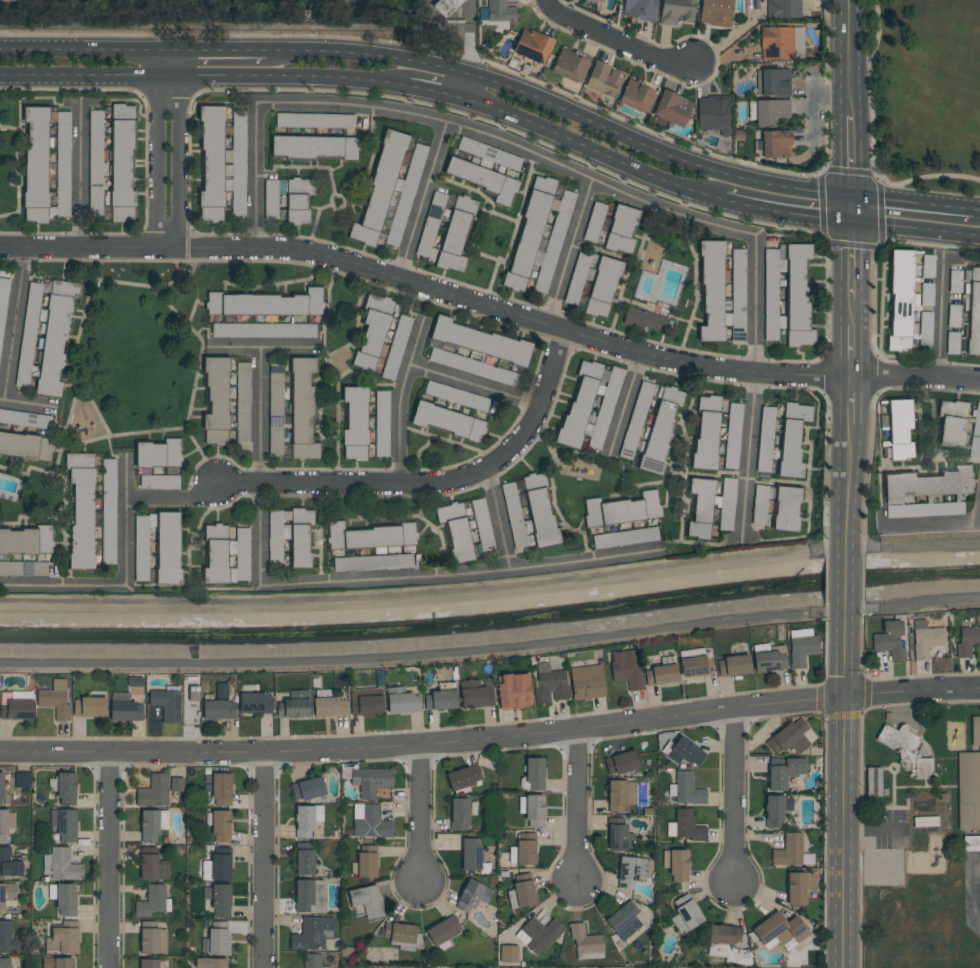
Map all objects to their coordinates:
building: (590, 1)
building: (448, 7)
building: (639, 9)
building: (783, 9)
building: (498, 11)
building: (677, 12)
building: (716, 12)
park: (260, 18)
road: (614, 39)
building: (782, 43)
building: (532, 46)
road: (83, 49)
road: (216, 50)
road: (846, 57)
building: (570, 66)
road: (204, 76)
building: (604, 79)
building: (772, 82)
road: (463, 87)
road: (434, 92)
building: (638, 95)
park: (922, 97)
road: (872, 98)
road: (560, 108)
building: (671, 109)
building: (770, 112)
building: (713, 114)
building: (314, 120)
road: (509, 142)
building: (776, 144)
building: (313, 147)
road: (167, 148)
building: (487, 153)
building: (237, 162)
building: (35, 163)
building: (95, 163)
building: (62, 164)
building: (121, 164)
building: (211, 164)
road: (847, 167)
road: (80, 173)
road: (650, 173)
road: (938, 176)
building: (482, 179)
building: (388, 191)
traffic signals: (848, 196)
building: (288, 198)
road: (424, 198)
road: (911, 203)
road: (977, 211)
traffic signals: (848, 220)
building: (594, 222)
building: (430, 224)
road: (912, 228)
building: (621, 229)
building: (528, 233)
building: (455, 234)
road: (978, 236)
building: (552, 240)
road: (571, 252)
road: (848, 259)
building: (927, 265)
building: (592, 282)
building: (953, 282)
building: (711, 291)
building: (786, 294)
building: (926, 294)
building: (736, 296)
building: (901, 301)
building: (2, 303)
building: (265, 304)
road: (490, 305)
building: (972, 309)
road: (848, 312)
building: (952, 316)
building: (645, 319)
road: (941, 319)
building: (924, 327)
building: (263, 330)
building: (372, 331)
building: (47, 333)
building: (478, 341)
building: (951, 343)
road: (267, 346)
building: (395, 347)
road: (12, 350)
road: (848, 350)
park: (138, 359)
road: (475, 385)
building: (275, 391)
building: (456, 395)
road: (400, 397)
road: (629, 397)
road: (2, 398)
road: (848, 399)
building: (215, 401)
building: (242, 401)
building: (590, 405)
building: (301, 409)
road: (259, 413)
building: (635, 420)
building: (447, 421)
building: (354, 423)
building: (381, 423)
building: (951, 423)
building: (660, 428)
building: (895, 430)
building: (706, 433)
building: (732, 436)
building: (792, 439)
building: (765, 440)
building: (26, 446)
building: (974, 448)
building: (158, 453)
road: (749, 458)
road: (847, 478)
road: (386, 480)
building: (928, 483)
building: (727, 504)
building: (760, 505)
building: (700, 507)
building: (786, 508)
building: (622, 509)
building: (108, 510)
building: (925, 510)
building: (770, 511)
building: (540, 512)
building: (82, 513)
building: (514, 516)
building: (483, 525)
building: (456, 531)
building: (370, 536)
building: (275, 537)
building: (300, 538)
building: (625, 538)
building: (26, 541)
building: (141, 549)
building: (168, 549)
building: (242, 554)
building: (215, 556)
road: (586, 557)
building: (372, 562)
building: (23, 569)
road: (845, 573)
road: (383, 578)
road: (127, 582)
road: (491, 593)
building: (889, 639)
building: (927, 641)
building: (967, 641)
building: (802, 650)
building: (769, 661)
building: (733, 665)
building: (695, 666)
building: (625, 668)
building: (660, 675)
building: (587, 683)
building: (550, 686)
road: (950, 687)
building: (513, 691)
building: (475, 694)
building: (440, 700)
building: (366, 701)
building: (401, 701)
building: (54, 703)
building: (255, 703)
building: (167, 704)
building: (219, 705)
building: (90, 706)
building: (293, 706)
building: (125, 708)
building: (328, 708)
building: (16, 709)
building: (975, 730)
building: (790, 737)
road: (461, 739)
building: (668, 743)
building: (905, 750)
building: (686, 753)
building: (621, 762)
building: (535, 773)
building: (785, 773)
building: (463, 777)
building: (22, 780)
building: (371, 781)
building: (873, 782)
building: (176, 784)
building: (1, 787)
building: (66, 788)
building: (221, 789)
building: (308, 789)
building: (688, 789)
road: (844, 790)
building: (968, 790)
building: (154, 791)
building: (620, 795)
road: (733, 802)
building: (776, 809)
building: (534, 810)
road: (575, 810)
building: (459, 814)
building: (304, 821)
building: (925, 822)
building: (372, 823)
road: (420, 823)
building: (3, 824)
building: (65, 824)
road: (870, 824)
building: (149, 826)
building: (221, 826)
building: (688, 826)
building: (618, 835)
building: (971, 843)
building: (789, 851)
building: (525, 852)
building: (470, 855)
road: (104, 857)
road: (267, 858)
building: (305, 862)
building: (9, 864)
building: (153, 864)
building: (62, 865)
building: (366, 865)
building: (678, 865)
building: (220, 867)
building: (632, 871)
building: (813, 882)
building: (796, 889)
building: (7, 894)
building: (524, 894)
building: (303, 895)
building: (472, 895)
building: (66, 899)
building: (221, 900)
building: (151, 901)
building: (367, 901)
building: (685, 914)
building: (623, 921)
building: (780, 929)
building: (442, 930)
building: (399, 932)
building: (312, 933)
building: (540, 934)
building: (723, 934)
building: (7, 938)
building: (149, 938)
building: (63, 940)
building: (218, 941)
building: (585, 943)
building: (509, 954)
building: (312, 961)
building: (5, 963)
building: (57, 963)
building: (148, 963)
building: (211, 963)

